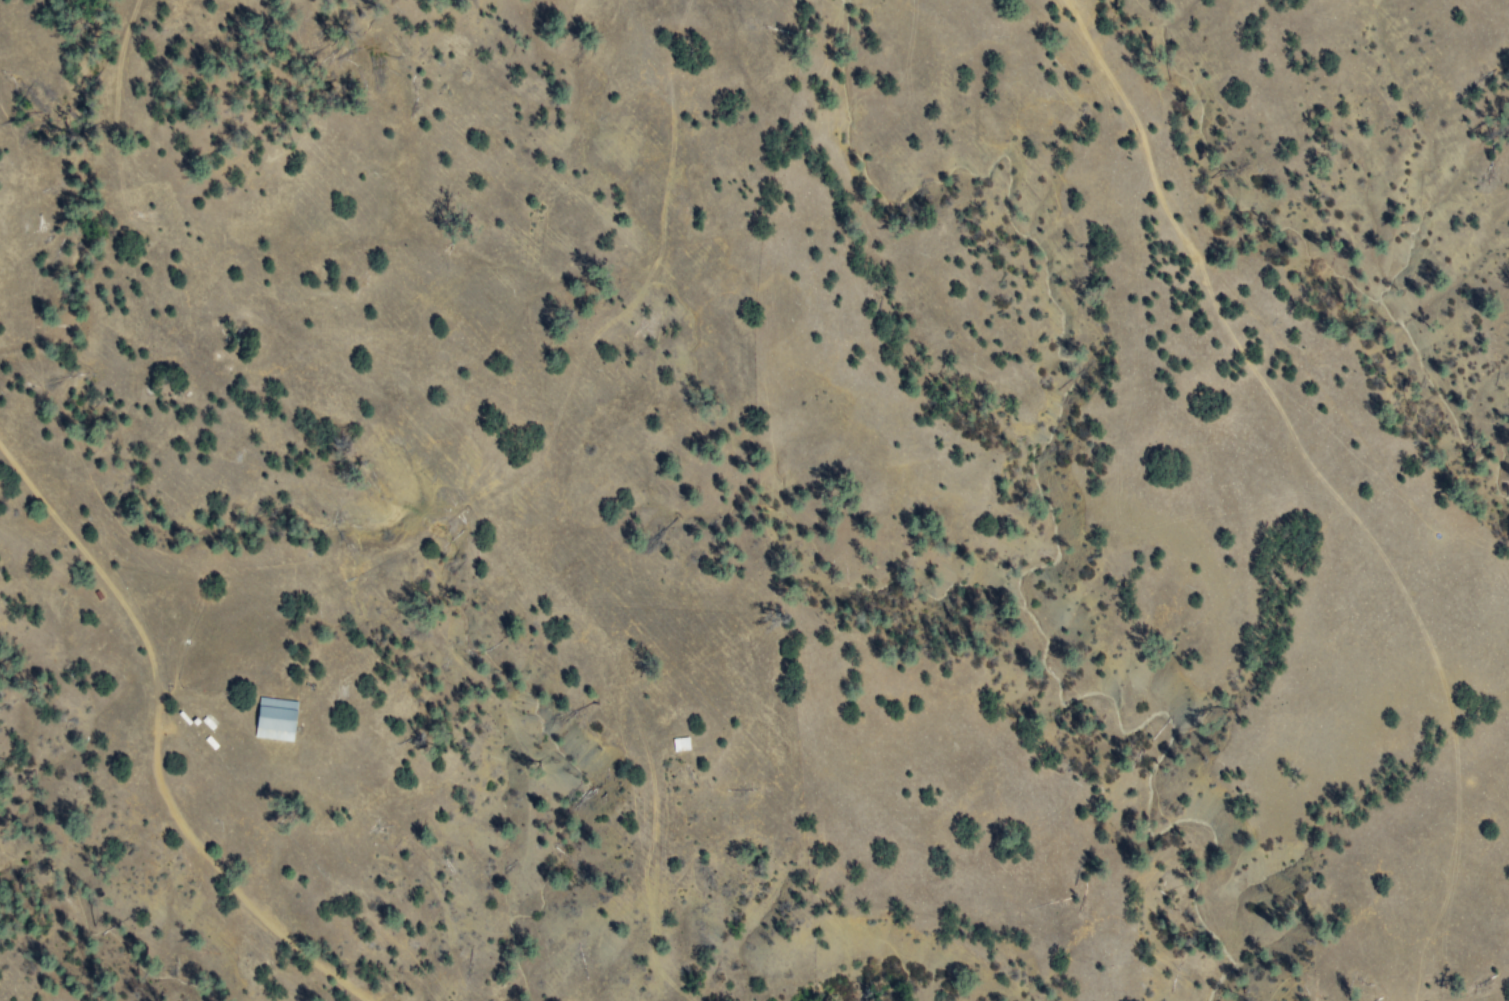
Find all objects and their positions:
building: (275, 719)
road: (170, 729)

